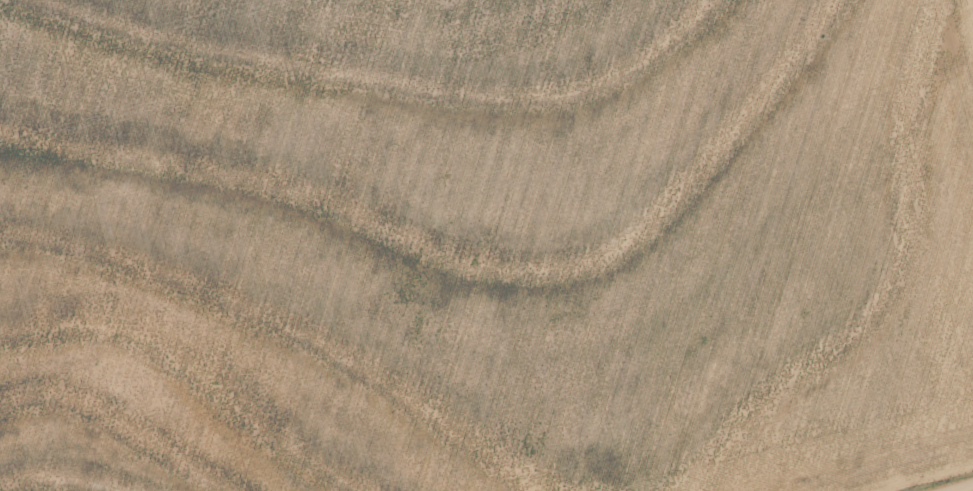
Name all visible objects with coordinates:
road: (960, 487)

